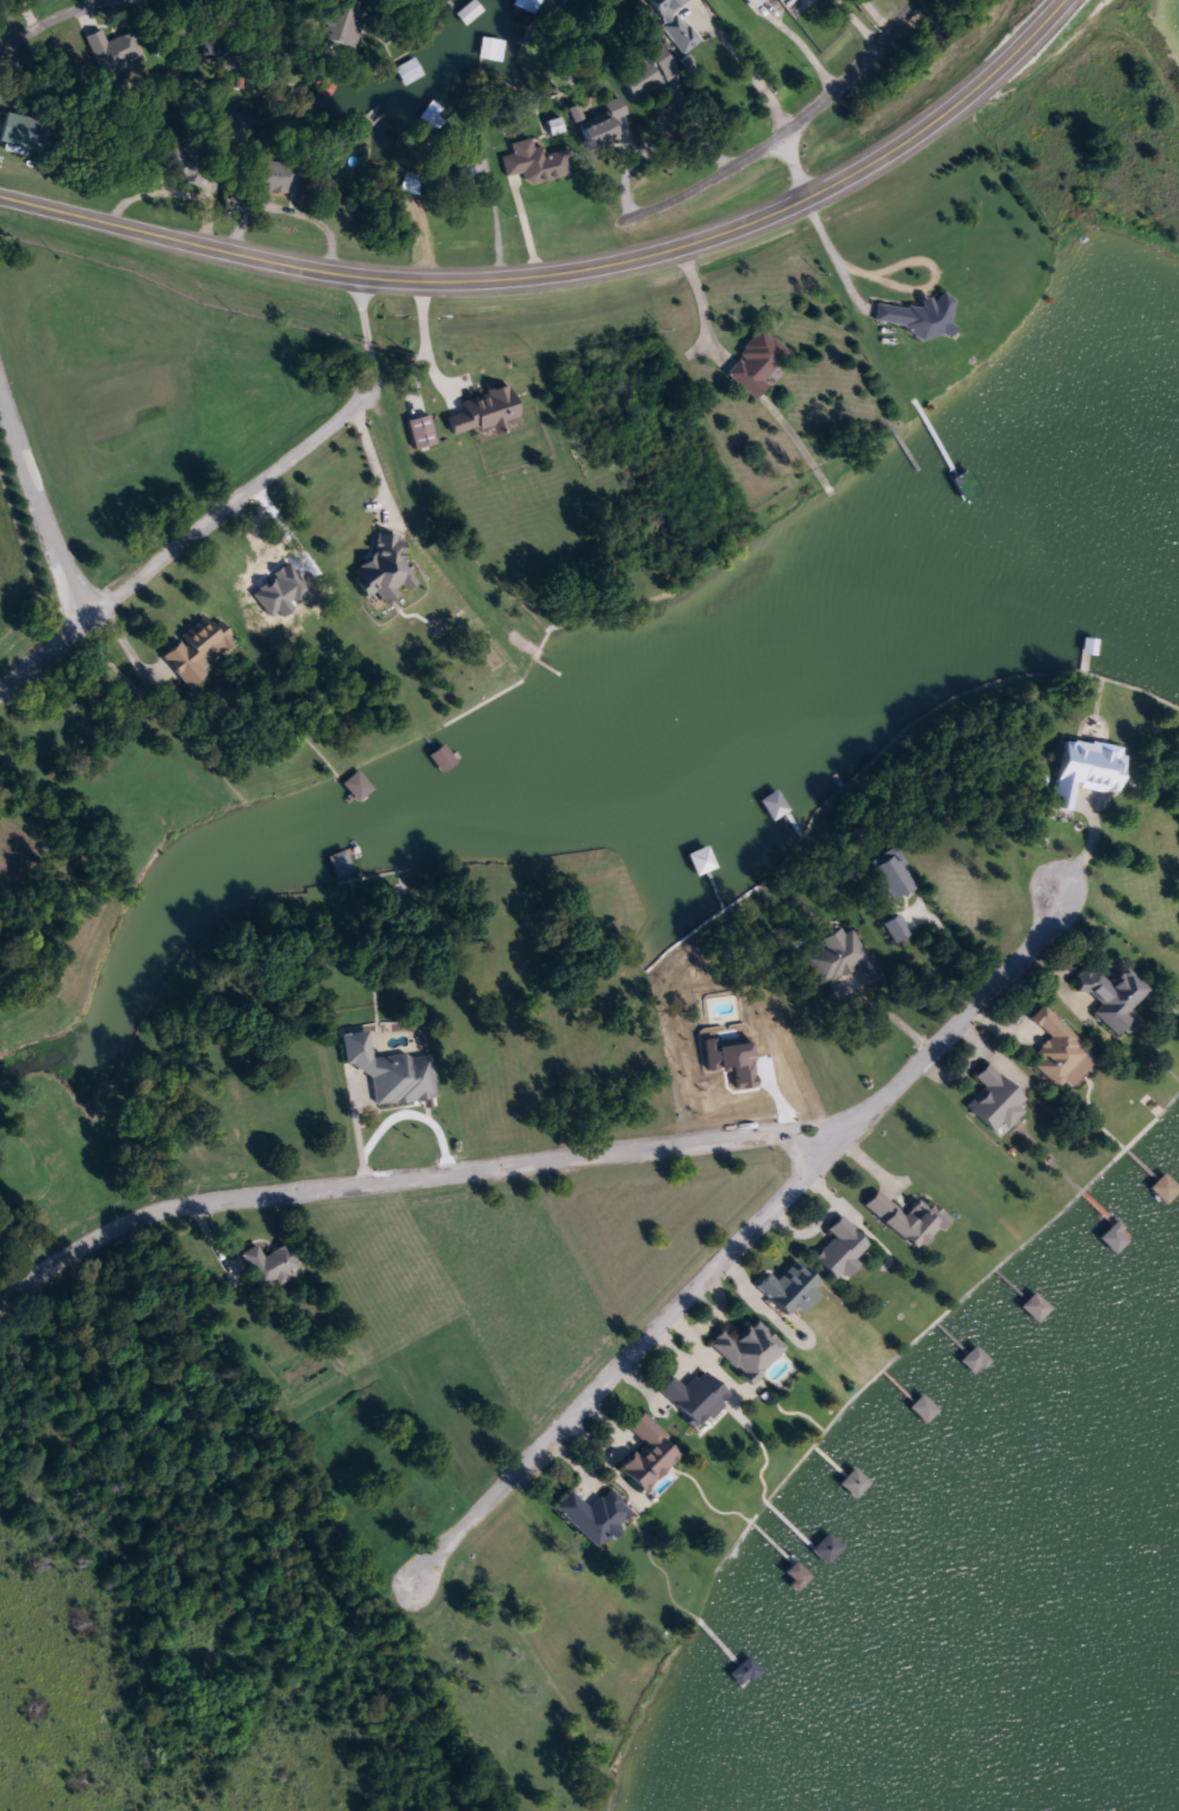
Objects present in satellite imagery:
building: (752, 2)
building: (527, 6)
building: (472, 12)
road: (50, 19)
building: (672, 21)
building: (347, 25)
building: (494, 49)
building: (649, 69)
building: (411, 72)
building: (604, 124)
road: (780, 130)
building: (536, 162)
road: (790, 165)
building: (284, 176)
building: (412, 182)
road: (561, 272)
building: (924, 315)
building: (759, 361)
road: (231, 506)
road: (36, 508)
building: (201, 651)
building: (447, 758)
building: (1091, 768)
building: (360, 784)
building: (342, 863)
building: (898, 873)
building: (902, 928)
building: (846, 957)
building: (1117, 997)
building: (1062, 1050)
building: (395, 1071)
building: (995, 1102)
road: (411, 1180)
building: (1168, 1190)
building: (908, 1222)
road: (744, 1236)
building: (1122, 1238)
building: (845, 1247)
building: (273, 1263)
building: (795, 1288)
building: (1042, 1307)
building: (753, 1350)
building: (982, 1360)
building: (701, 1396)
building: (931, 1409)
building: (653, 1456)
building: (862, 1483)
building: (598, 1515)
building: (834, 1550)
building: (752, 1673)

